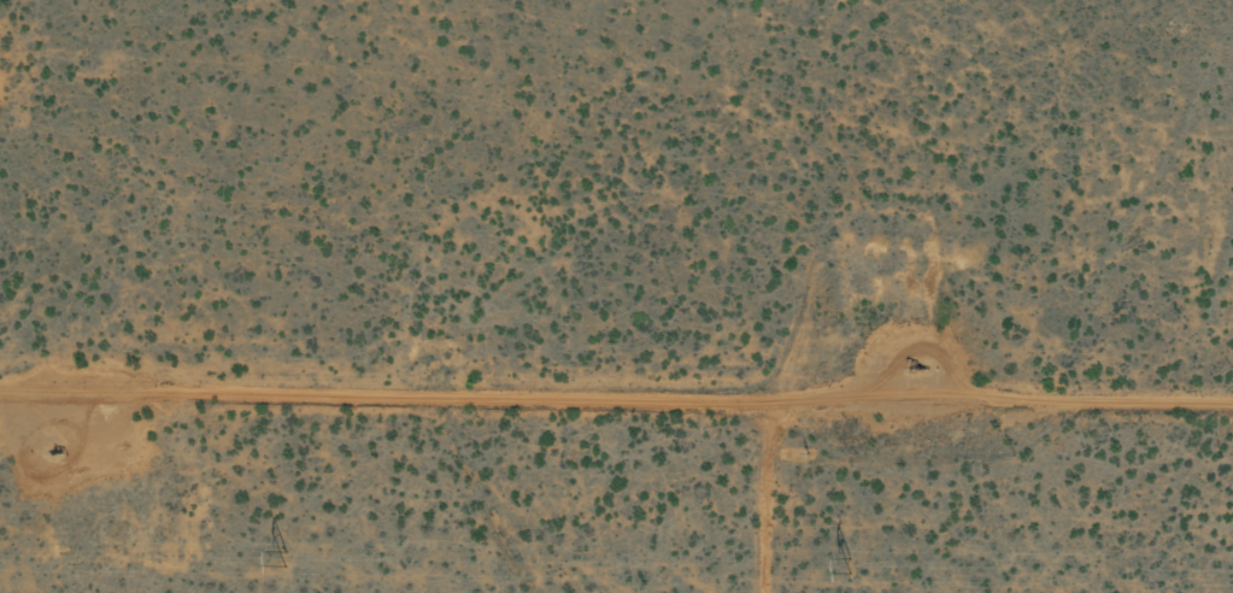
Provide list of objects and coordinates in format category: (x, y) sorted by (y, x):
road: (76, 388)
power tower: (286, 556)
power tower: (851, 563)

